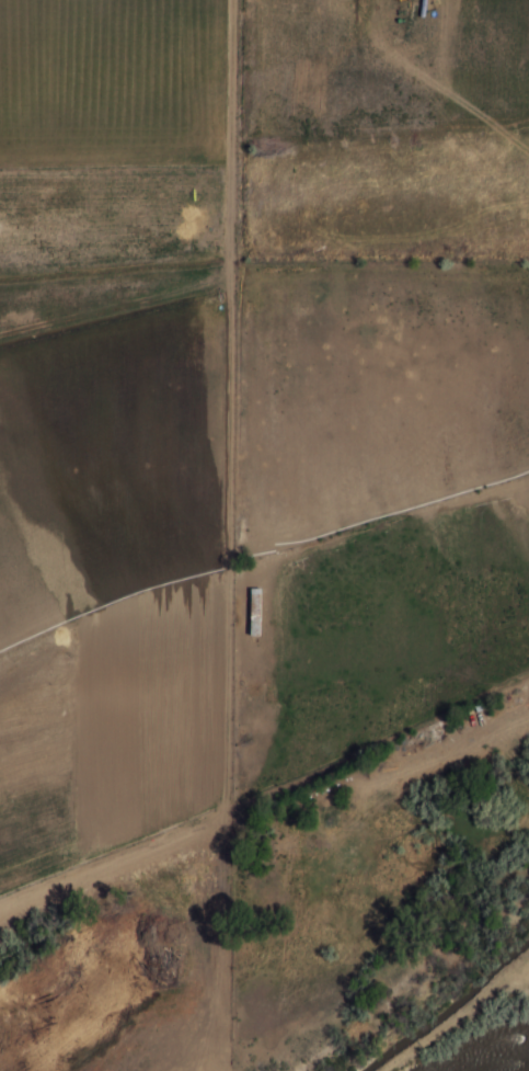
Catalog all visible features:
road: (196, 129)
river: (520, 1069)

